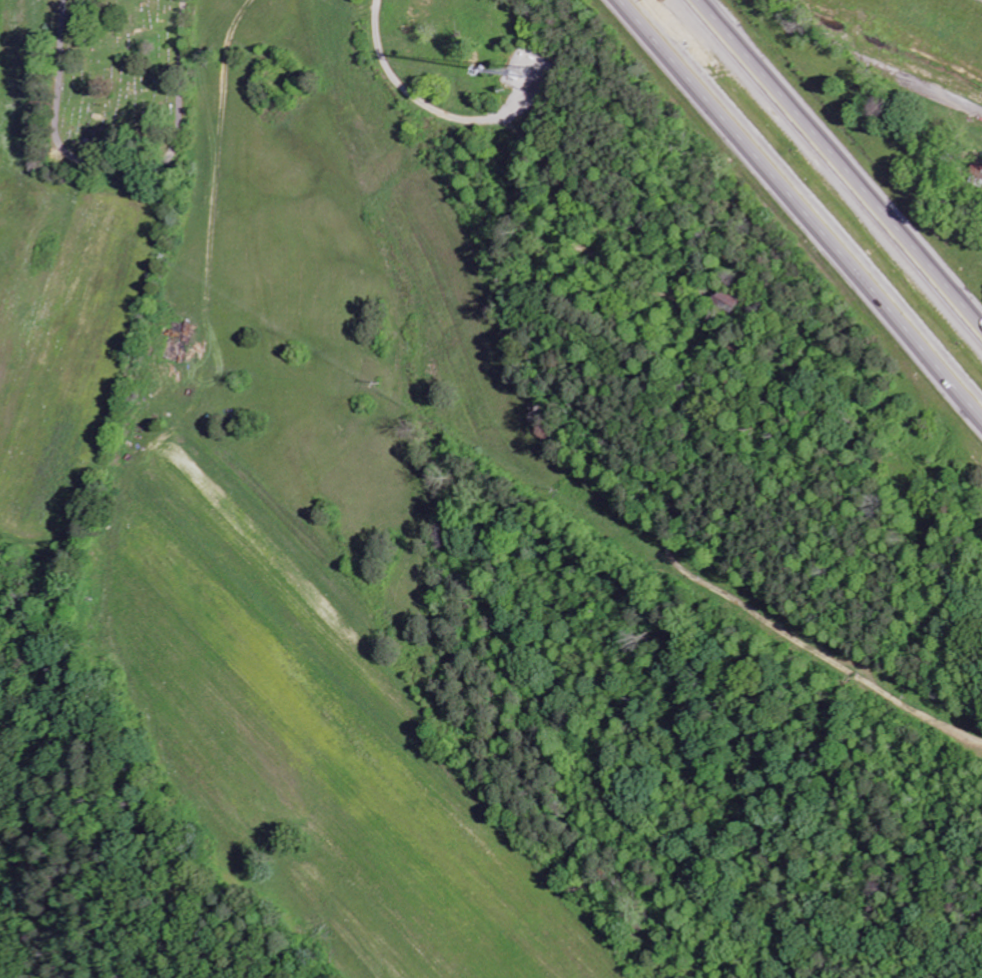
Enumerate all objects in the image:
park: (118, 89)
road: (945, 98)
road: (835, 168)
road: (805, 201)
building: (177, 343)

